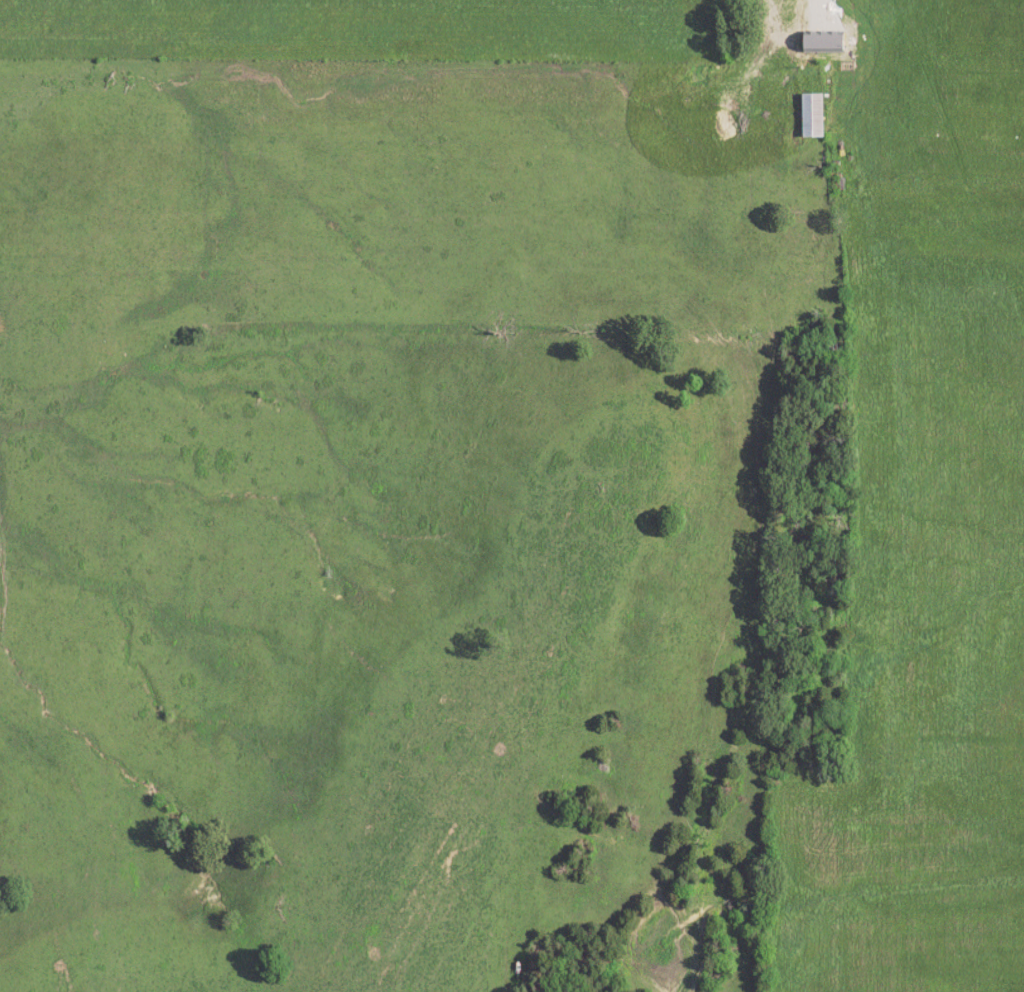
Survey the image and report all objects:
road: (794, 40)
building: (808, 116)

